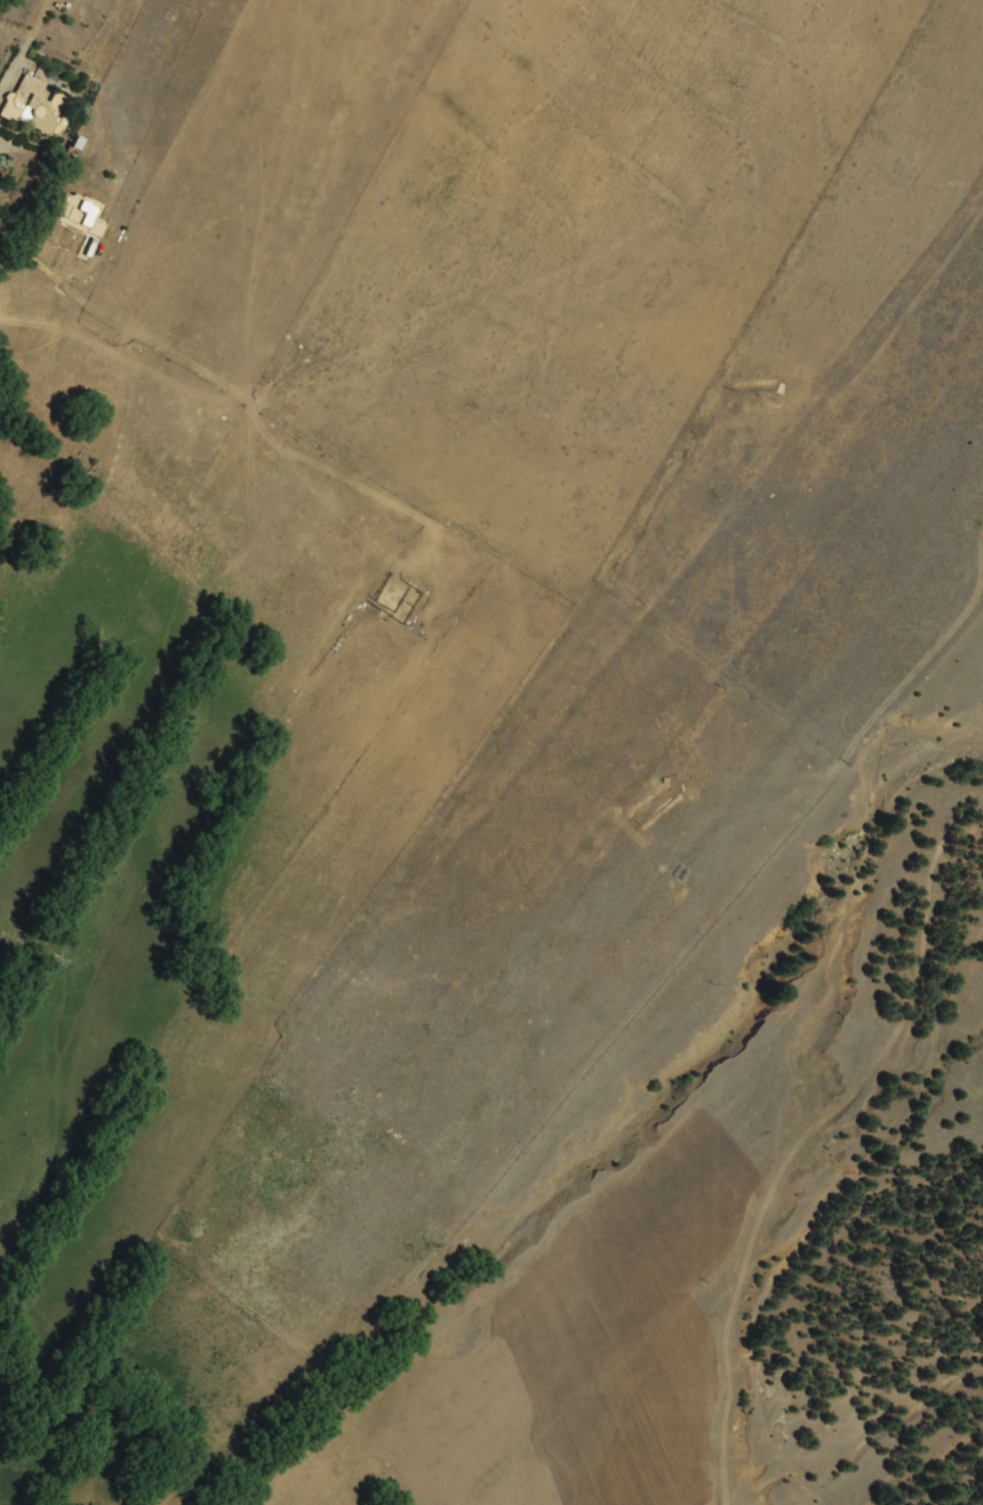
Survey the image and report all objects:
building: (31, 108)
building: (75, 215)

